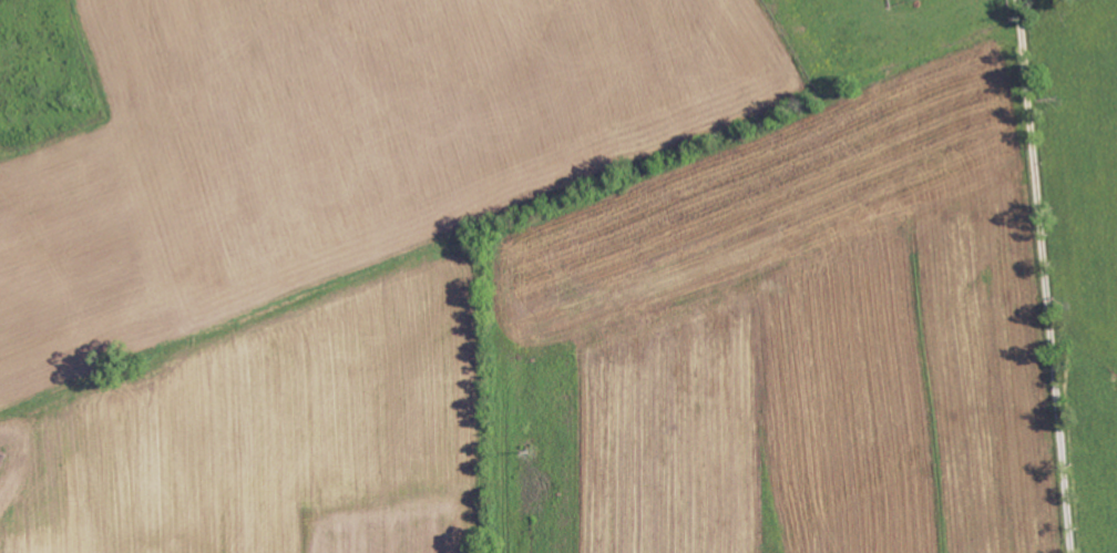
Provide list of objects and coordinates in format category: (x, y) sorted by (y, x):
road: (1045, 276)

